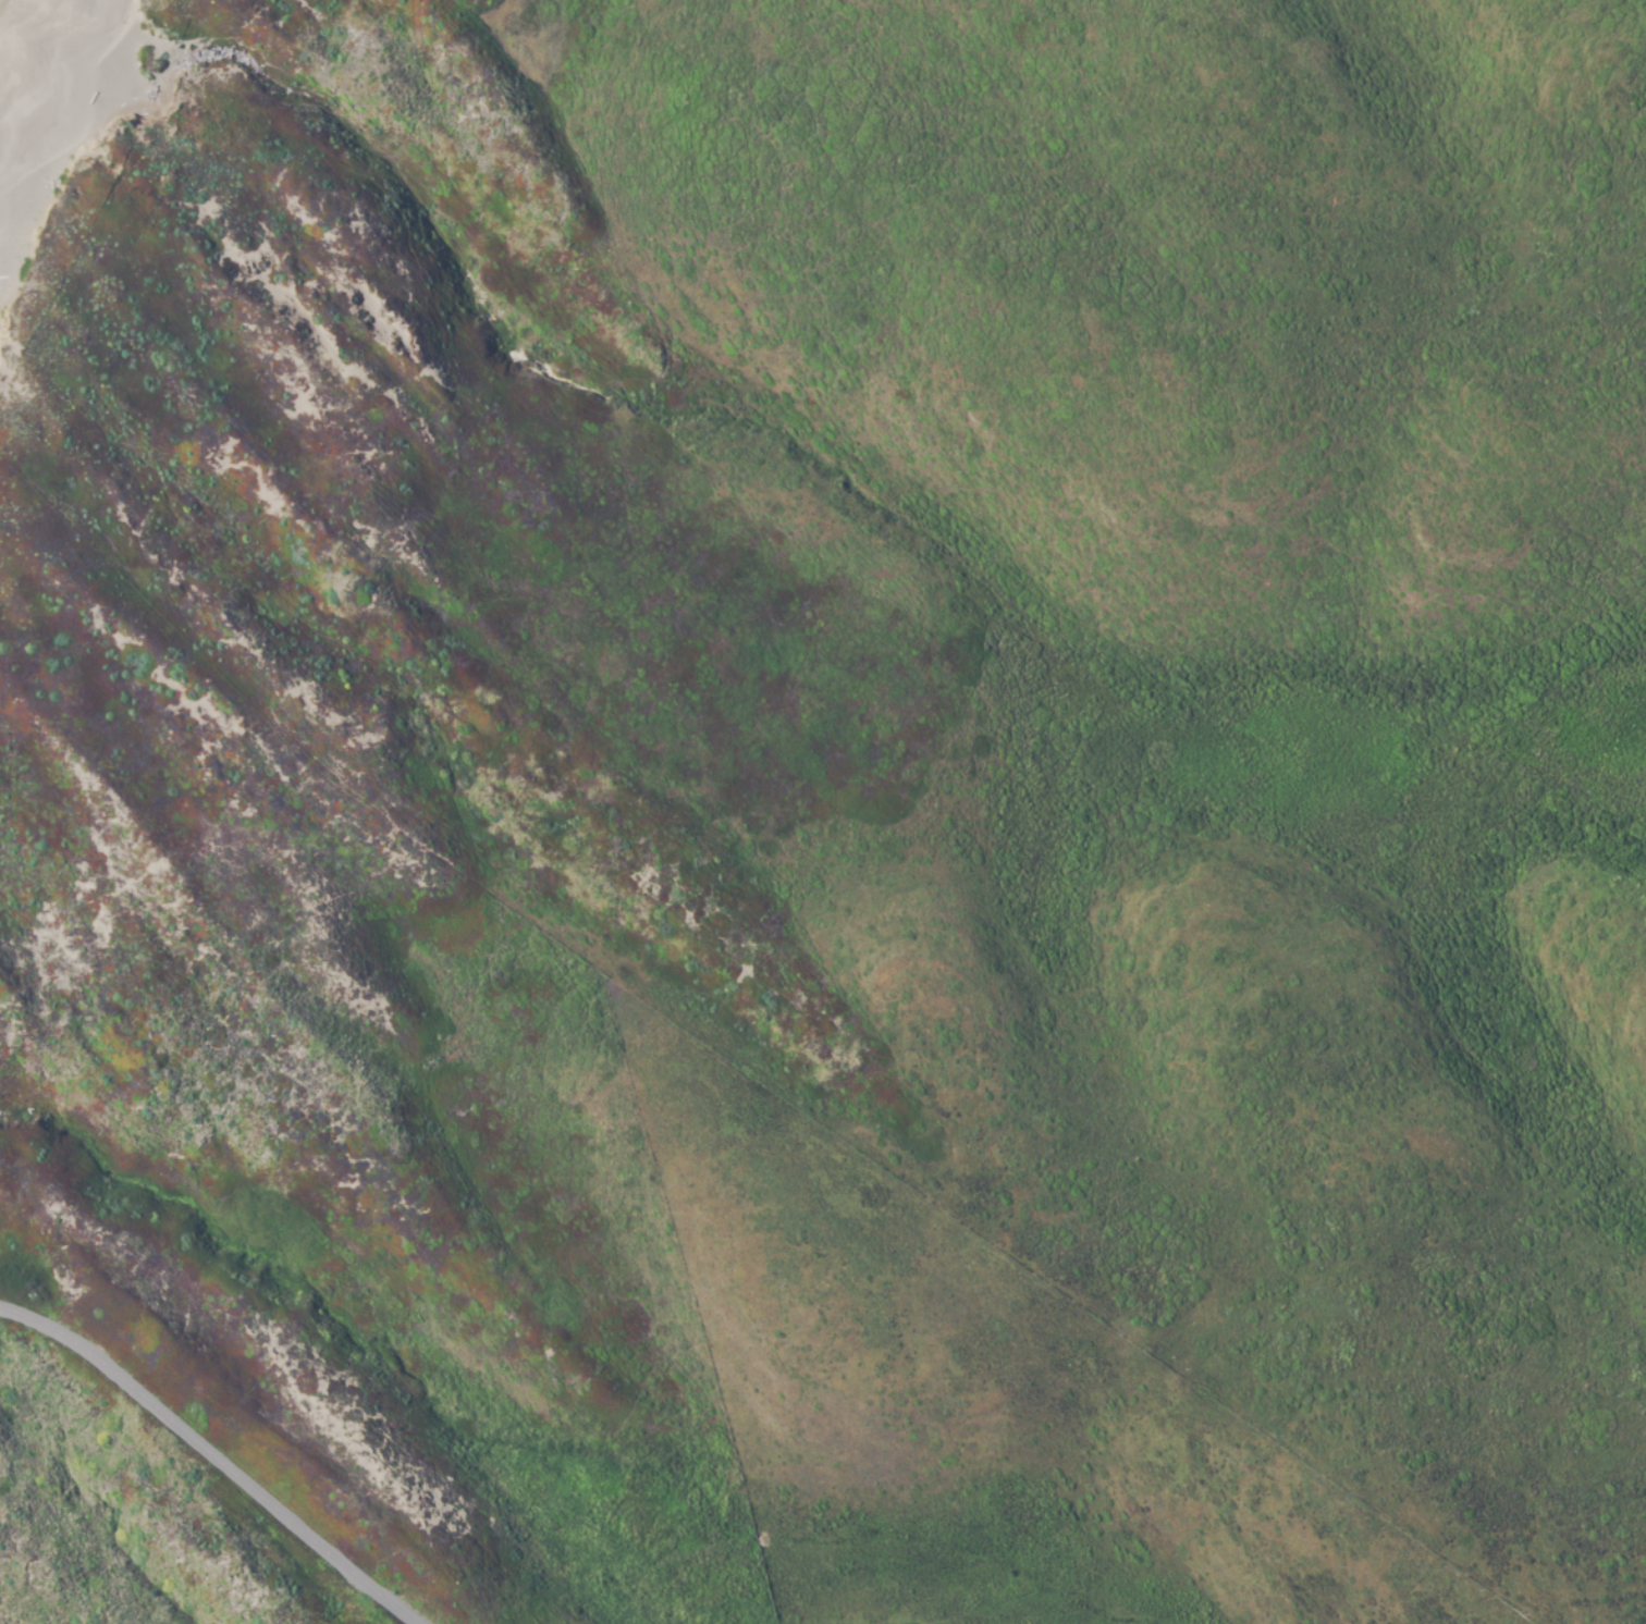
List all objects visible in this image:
road: (211, 1459)

